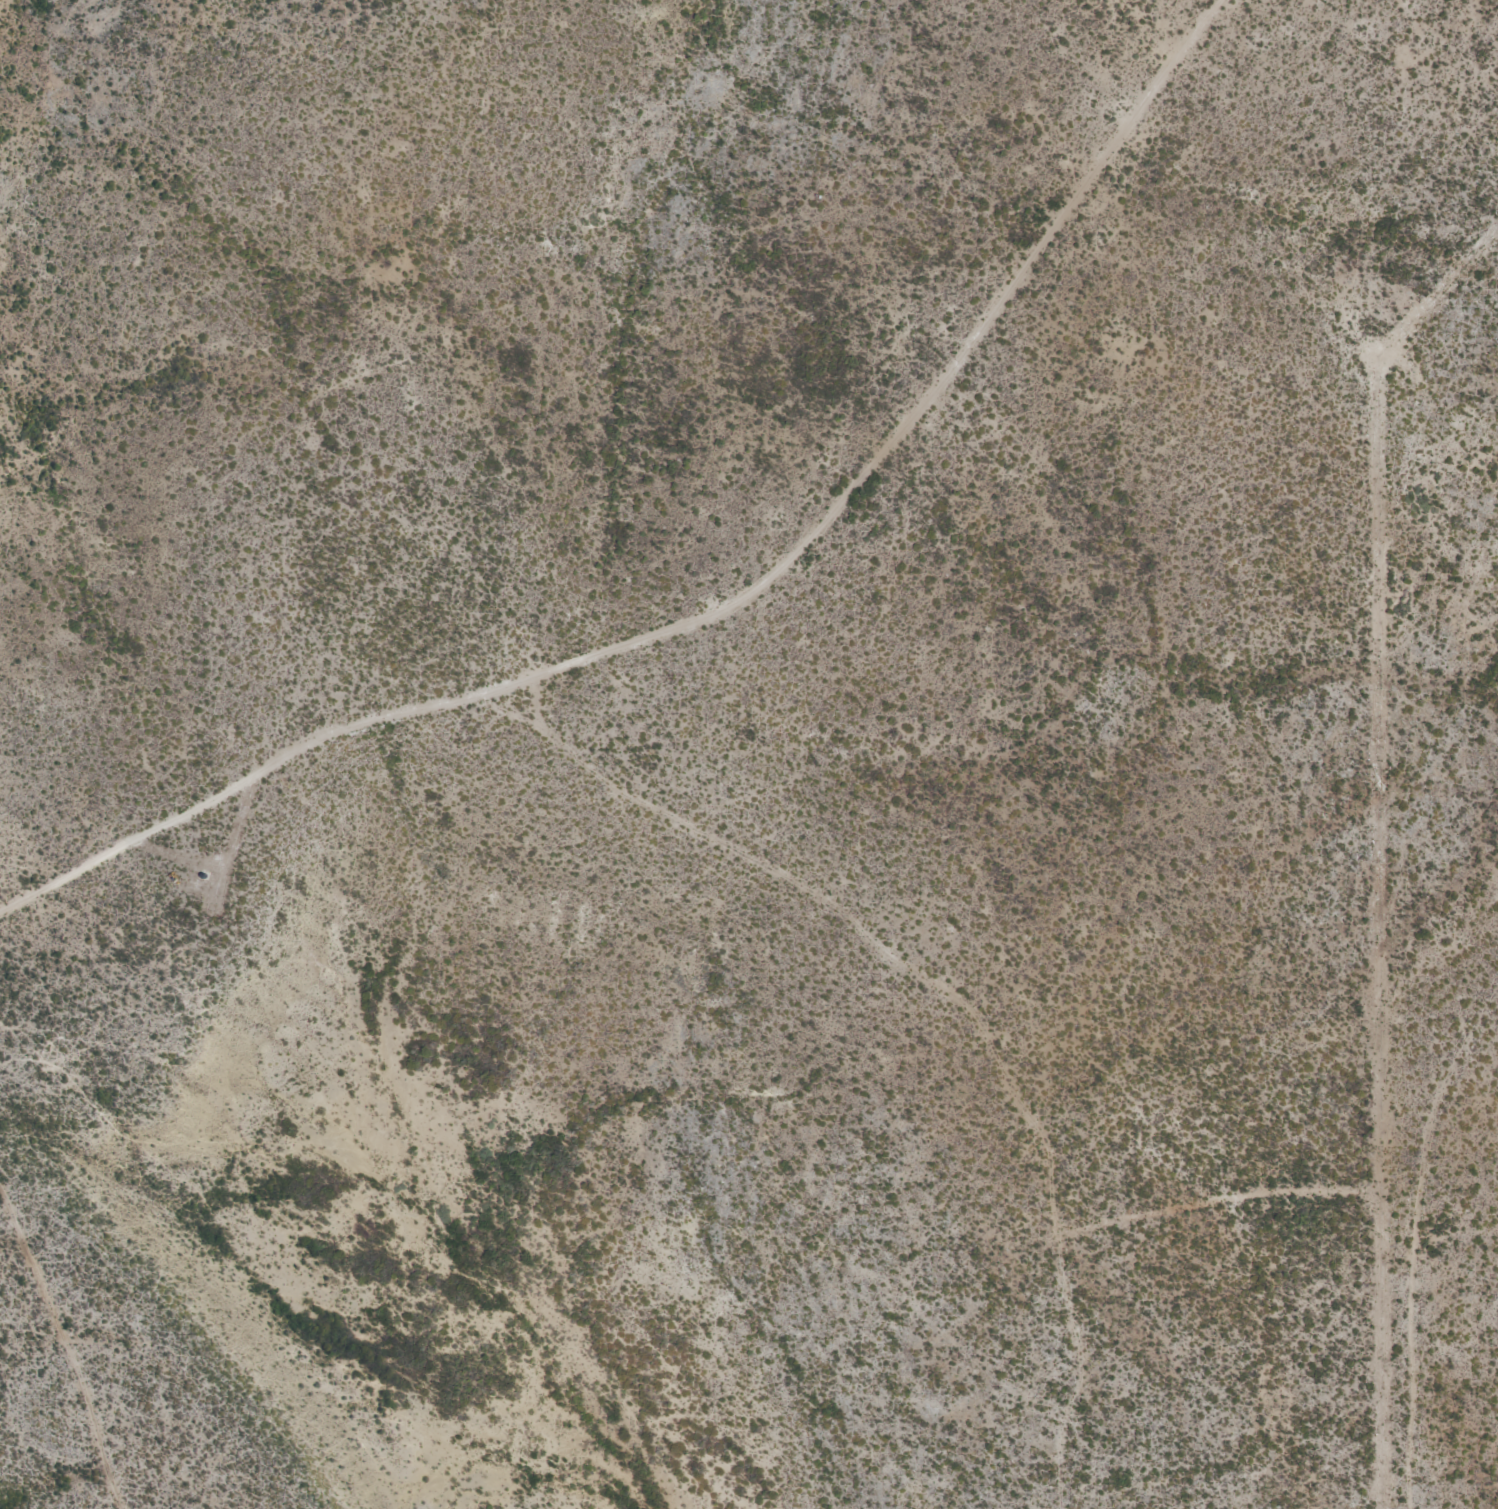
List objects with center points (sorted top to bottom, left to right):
road: (722, 609)
road: (1430, 1245)
road: (68, 1345)

